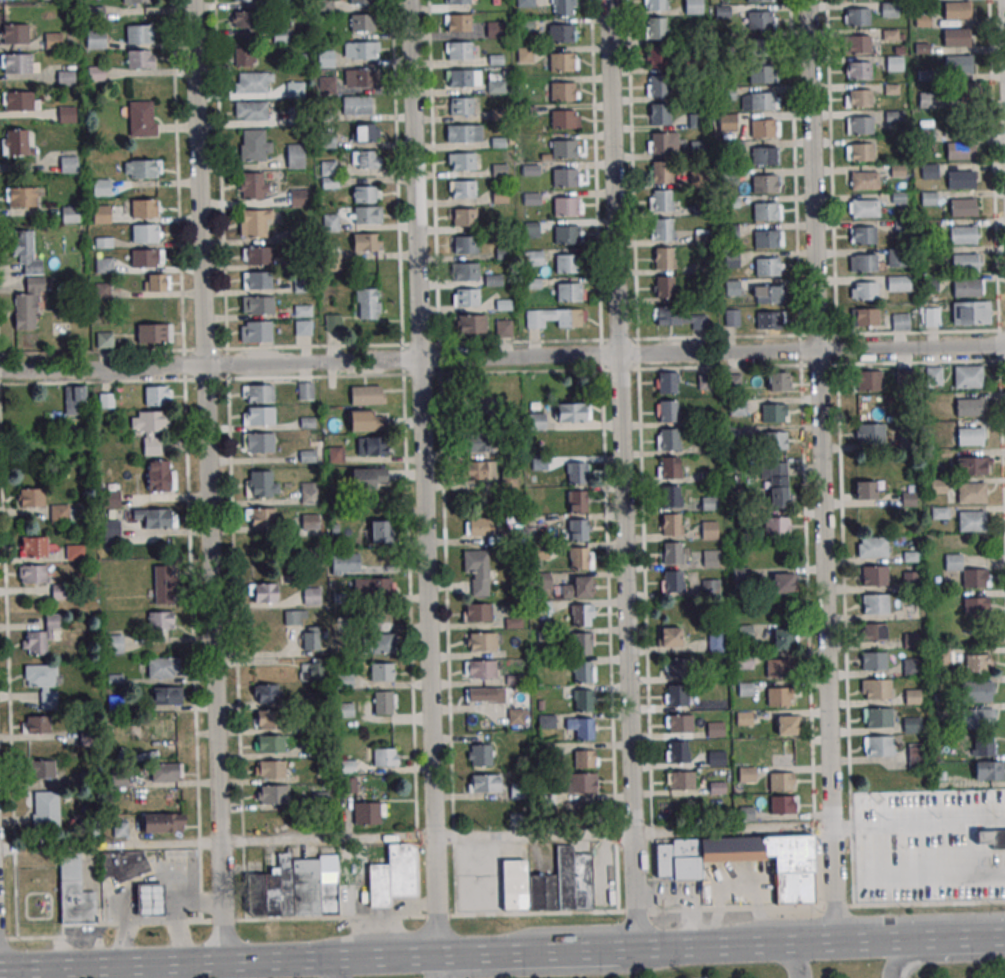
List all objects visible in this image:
building: (242, 0)
building: (136, 1)
building: (359, 1)
building: (457, 1)
building: (757, 1)
building: (278, 2)
building: (325, 4)
building: (655, 5)
building: (693, 6)
building: (561, 7)
building: (889, 9)
building: (956, 10)
building: (857, 17)
building: (758, 20)
building: (244, 21)
building: (361, 22)
building: (457, 22)
building: (657, 27)
building: (494, 29)
building: (14, 33)
building: (140, 33)
building: (559, 33)
building: (280, 36)
building: (954, 36)
building: (53, 40)
building: (95, 40)
building: (857, 44)
building: (759, 47)
building: (361, 50)
building: (458, 50)
building: (242, 56)
building: (656, 56)
building: (142, 58)
building: (325, 58)
building: (559, 61)
building: (18, 63)
building: (957, 63)
building: (859, 71)
building: (96, 73)
building: (759, 74)
building: (65, 77)
building: (362, 78)
building: (459, 78)
building: (253, 82)
building: (326, 85)
building: (657, 85)
building: (496, 87)
building: (295, 89)
building: (560, 90)
building: (859, 98)
building: (927, 99)
building: (20, 100)
building: (761, 101)
building: (356, 105)
building: (459, 105)
building: (251, 110)
building: (66, 114)
building: (658, 114)
building: (894, 116)
building: (141, 118)
building: (561, 118)
building: (727, 122)
building: (859, 125)
building: (761, 128)
building: (365, 132)
building: (461, 133)
building: (327, 141)
building: (15, 142)
building: (662, 143)
building: (255, 146)
building: (562, 149)
building: (957, 150)
building: (860, 151)
building: (295, 155)
building: (762, 156)
building: (365, 159)
building: (462, 162)
building: (69, 164)
building: (142, 169)
building: (497, 170)
building: (661, 172)
building: (329, 174)
building: (563, 177)
building: (960, 179)
building: (864, 180)
building: (763, 184)
building: (253, 185)
building: (101, 187)
building: (462, 189)
building: (363, 194)
building: (21, 196)
building: (298, 197)
building: (531, 198)
building: (929, 198)
building: (660, 200)
building: (564, 206)
building: (962, 207)
building: (145, 208)
building: (863, 208)
building: (764, 211)
building: (70, 214)
building: (101, 214)
building: (364, 214)
building: (463, 217)
building: (255, 223)
building: (662, 229)
building: (730, 231)
building: (145, 233)
building: (565, 235)
building: (862, 235)
building: (961, 235)
building: (764, 238)
building: (365, 242)
building: (465, 245)
road: (615, 251)
building: (26, 252)
building: (257, 255)
building: (897, 257)
building: (146, 258)
building: (533, 258)
building: (664, 258)
building: (863, 262)
building: (566, 263)
building: (963, 263)
building: (103, 265)
building: (765, 266)
building: (466, 272)
building: (256, 280)
building: (156, 283)
building: (898, 283)
building: (930, 283)
building: (664, 287)
building: (964, 288)
building: (863, 290)
building: (567, 292)
building: (766, 295)
building: (467, 298)
building: (368, 303)
building: (27, 304)
building: (257, 304)
building: (971, 313)
building: (679, 317)
building: (732, 317)
building: (865, 317)
building: (930, 317)
building: (567, 318)
building: (768, 320)
building: (900, 321)
building: (332, 322)
building: (471, 324)
building: (303, 327)
building: (503, 328)
building: (255, 331)
building: (154, 334)
building: (104, 340)
road: (502, 354)
road: (821, 354)
road: (817, 364)
building: (932, 376)
building: (967, 376)
building: (734, 378)
building: (903, 378)
building: (778, 380)
building: (868, 380)
building: (705, 381)
building: (668, 382)
building: (305, 391)
building: (259, 394)
building: (157, 395)
building: (367, 395)
building: (74, 400)
road: (206, 403)
building: (470, 405)
building: (968, 406)
building: (667, 410)
building: (572, 412)
building: (772, 412)
building: (259, 416)
building: (365, 420)
building: (536, 421)
building: (151, 429)
building: (869, 433)
building: (970, 436)
building: (668, 439)
building: (772, 440)
building: (259, 442)
building: (479, 443)
building: (371, 445)
building: (973, 465)
building: (669, 467)
building: (479, 470)
building: (577, 473)
building: (159, 475)
road: (424, 477)
building: (368, 478)
building: (775, 482)
building: (260, 483)
building: (936, 486)
building: (868, 489)
building: (307, 492)
building: (971, 492)
building: (671, 496)
building: (30, 497)
building: (110, 499)
building: (907, 499)
building: (577, 500)
building: (709, 503)
building: (939, 512)
building: (63, 514)
building: (262, 517)
building: (155, 518)
building: (971, 521)
building: (309, 522)
building: (670, 523)
building: (477, 526)
building: (776, 526)
building: (111, 528)
building: (579, 529)
building: (709, 529)
building: (378, 531)
building: (34, 546)
building: (871, 547)
building: (74, 552)
building: (673, 552)
building: (580, 558)
building: (710, 558)
building: (952, 562)
building: (345, 563)
building: (477, 570)
building: (32, 573)
building: (873, 576)
building: (909, 580)
building: (671, 581)
building: (783, 583)
building: (163, 584)
building: (372, 586)
building: (710, 586)
building: (577, 588)
building: (262, 593)
building: (311, 595)
building: (873, 605)
building: (975, 606)
building: (477, 613)
building: (582, 615)
building: (160, 621)
building: (513, 622)
building: (743, 632)
building: (871, 632)
building: (40, 636)
building: (671, 636)
building: (310, 638)
building: (783, 639)
building: (910, 640)
building: (715, 641)
building: (382, 642)
building: (481, 642)
building: (114, 643)
building: (583, 643)
building: (941, 657)
building: (743, 661)
building: (873, 661)
building: (978, 662)
building: (164, 667)
building: (675, 667)
building: (911, 667)
building: (776, 668)
building: (479, 669)
building: (310, 670)
building: (381, 671)
building: (583, 671)
building: (344, 679)
building: (43, 683)
building: (877, 689)
building: (977, 691)
building: (265, 693)
building: (167, 695)
building: (484, 695)
building: (675, 695)
building: (911, 696)
building: (778, 697)
building: (583, 700)
building: (384, 702)
building: (345, 710)
building: (743, 715)
building: (516, 716)
building: (877, 717)
building: (978, 718)
building: (266, 719)
building: (164, 722)
building: (36, 724)
building: (679, 724)
building: (912, 724)
road: (630, 725)
building: (787, 725)
building: (581, 728)
building: (715, 729)
building: (269, 743)
building: (984, 745)
building: (878, 746)
building: (677, 751)
building: (781, 752)
building: (479, 754)
building: (384, 757)
building: (585, 758)
building: (716, 758)
building: (42, 769)
building: (270, 769)
building: (989, 771)
building: (164, 772)
building: (746, 774)
building: (680, 781)
building: (782, 781)
building: (485, 783)
building: (580, 783)
building: (272, 795)
building: (783, 804)
building: (44, 808)
building: (366, 813)
building: (162, 822)
road: (918, 825)
road: (831, 826)
road: (732, 830)
road: (534, 835)
building: (989, 838)
road: (327, 839)
road: (110, 845)
building: (730, 850)
building: (789, 853)
building: (661, 858)
building: (684, 859)
building: (122, 865)
building: (869, 868)
building: (925, 875)
building: (392, 876)
road: (221, 884)
building: (549, 884)
building: (296, 886)
building: (792, 889)
building: (74, 893)
building: (148, 901)
road: (496, 914)
road: (974, 937)
road: (889, 940)
road: (720, 945)
road: (552, 951)
road: (469, 954)
road: (942, 957)
road: (332, 958)
road: (793, 959)
road: (112, 965)
road: (332, 968)
road: (561, 971)

